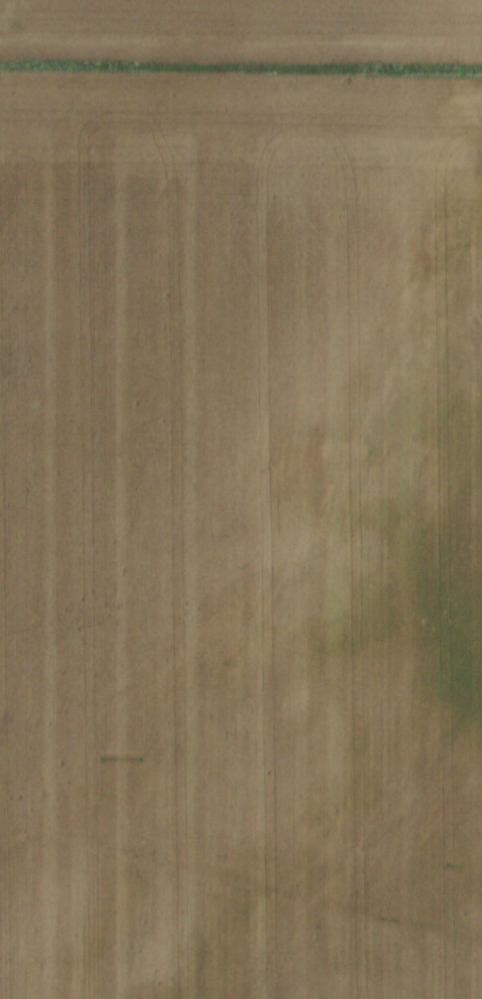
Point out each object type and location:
road: (75, 839)

